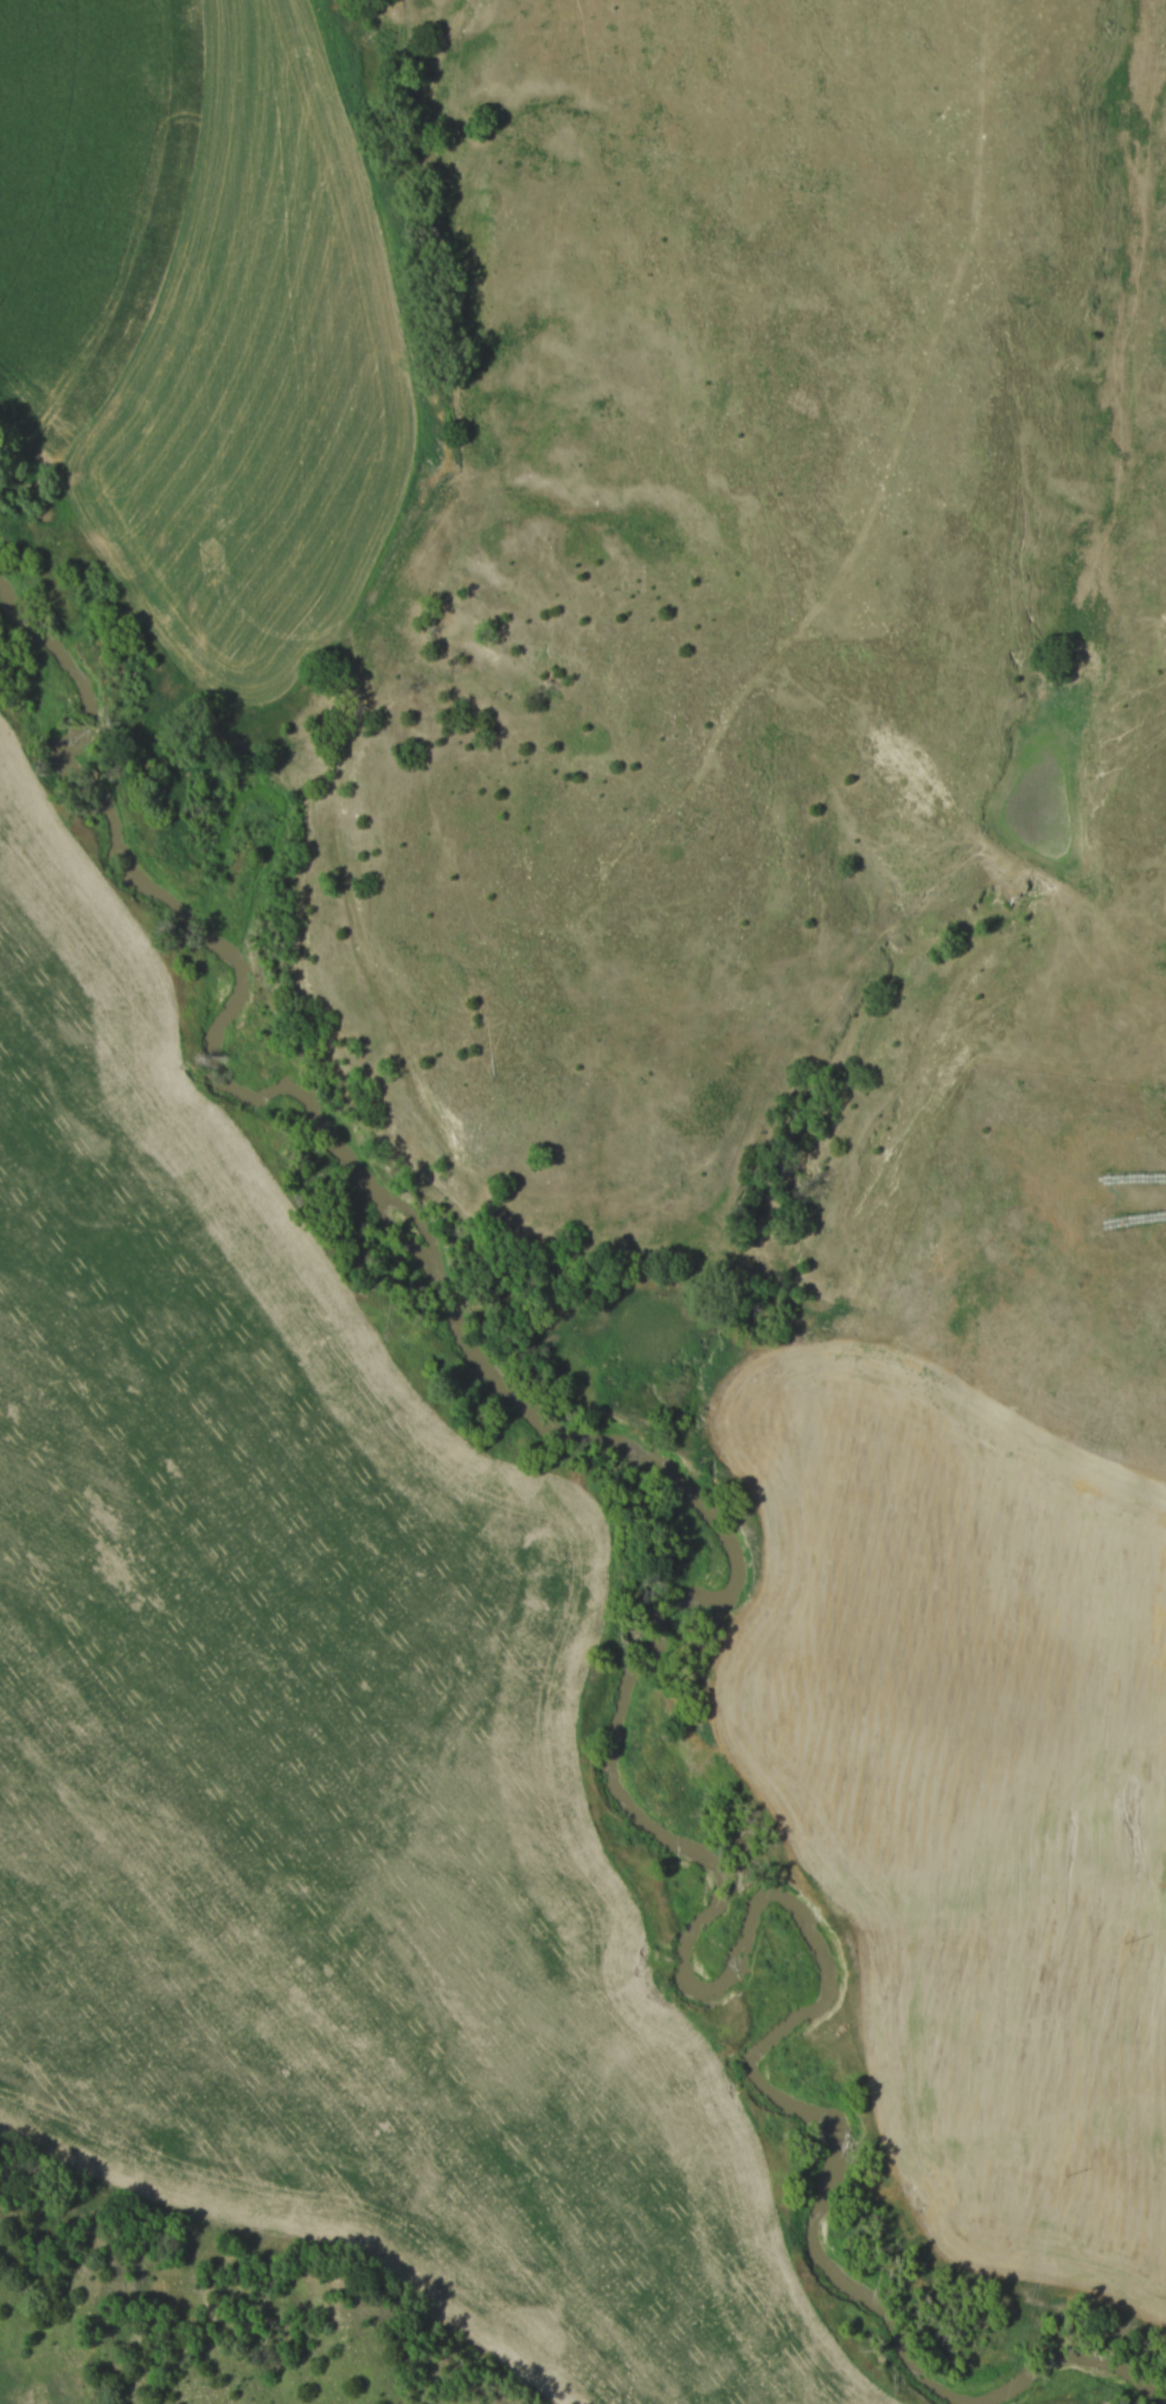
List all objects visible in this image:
crop: (81, 184)
crop: (244, 367)
crop: (976, 1788)

